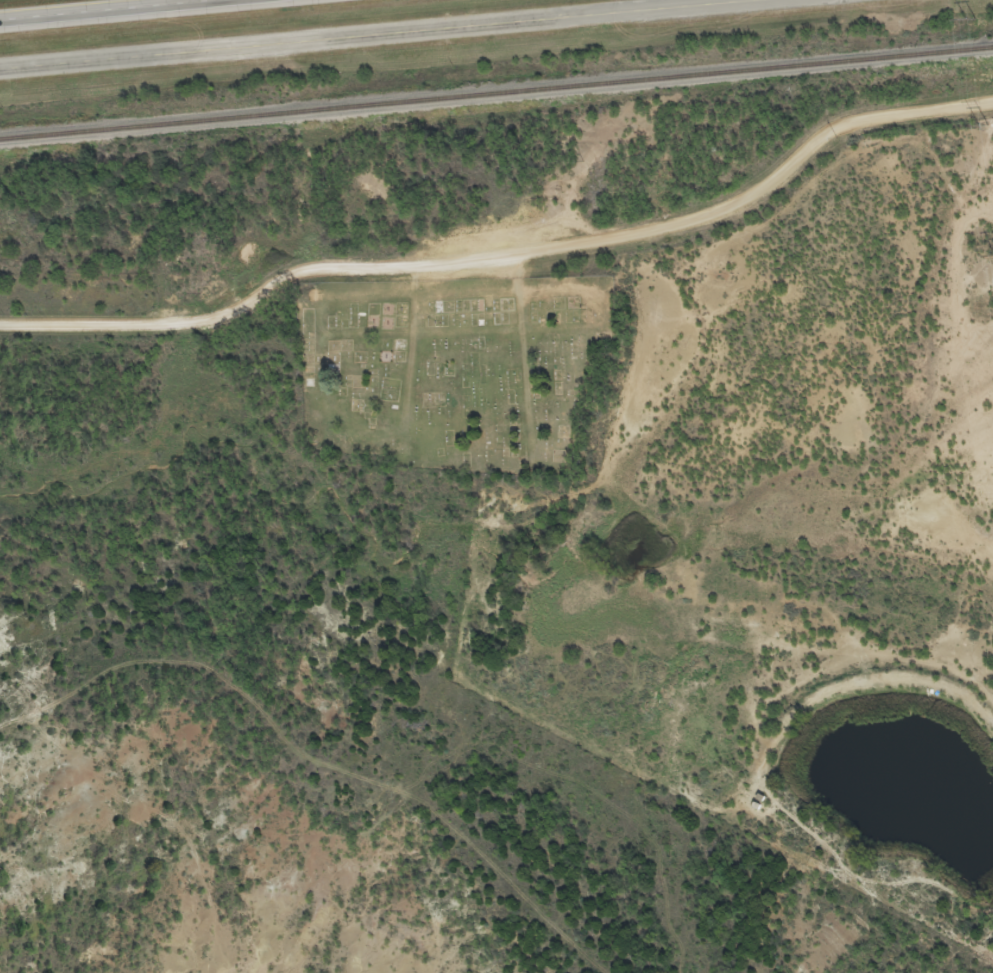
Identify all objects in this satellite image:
road: (94, 8)
road: (616, 13)
power tower: (968, 18)
road: (235, 48)
railway: (496, 91)
road: (746, 194)
road: (245, 301)
park: (449, 367)

